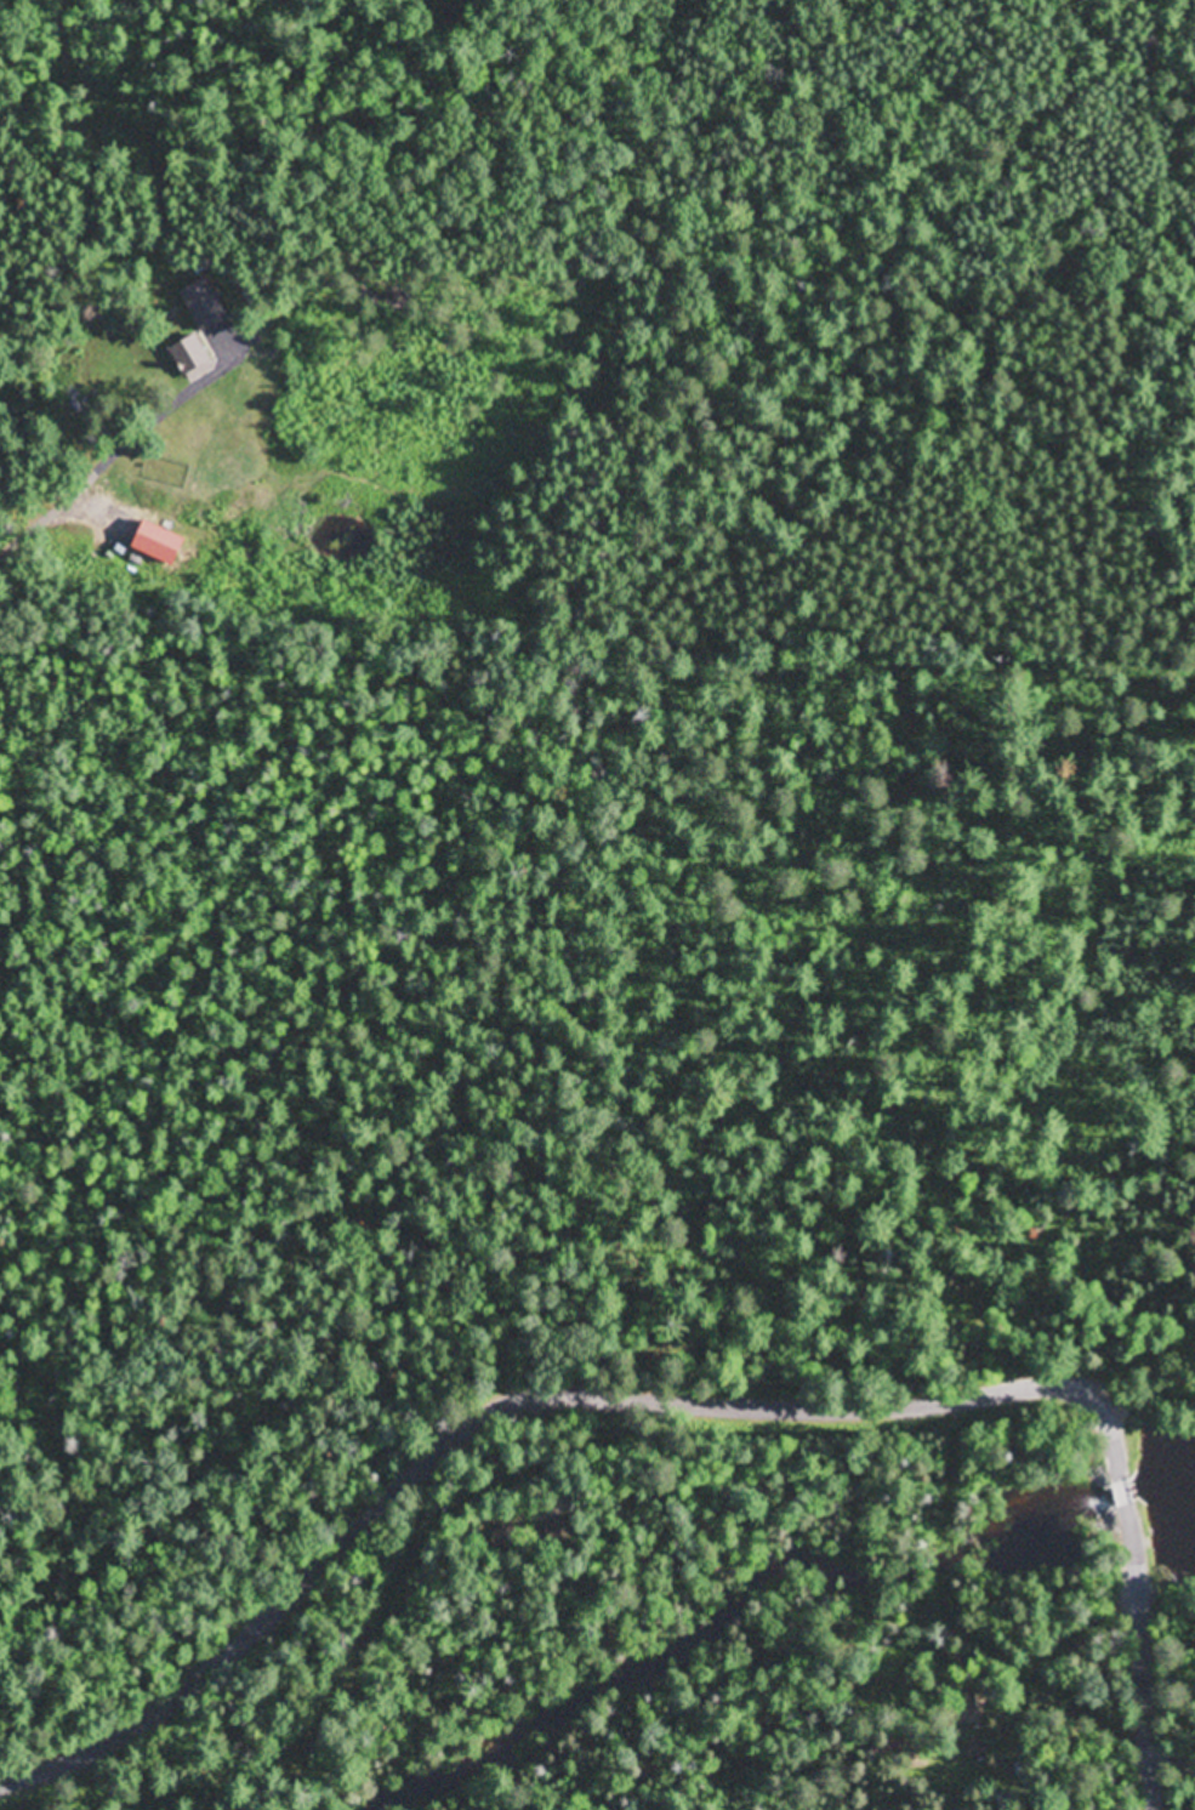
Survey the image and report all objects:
building: (195, 357)
road: (537, 1395)
dam: (1127, 1490)
road: (1127, 1490)
building: (559, 1533)
building: (511, 1541)
road: (1148, 1651)
building: (972, 1709)
building: (888, 1749)
building: (978, 1751)
building: (920, 1760)

